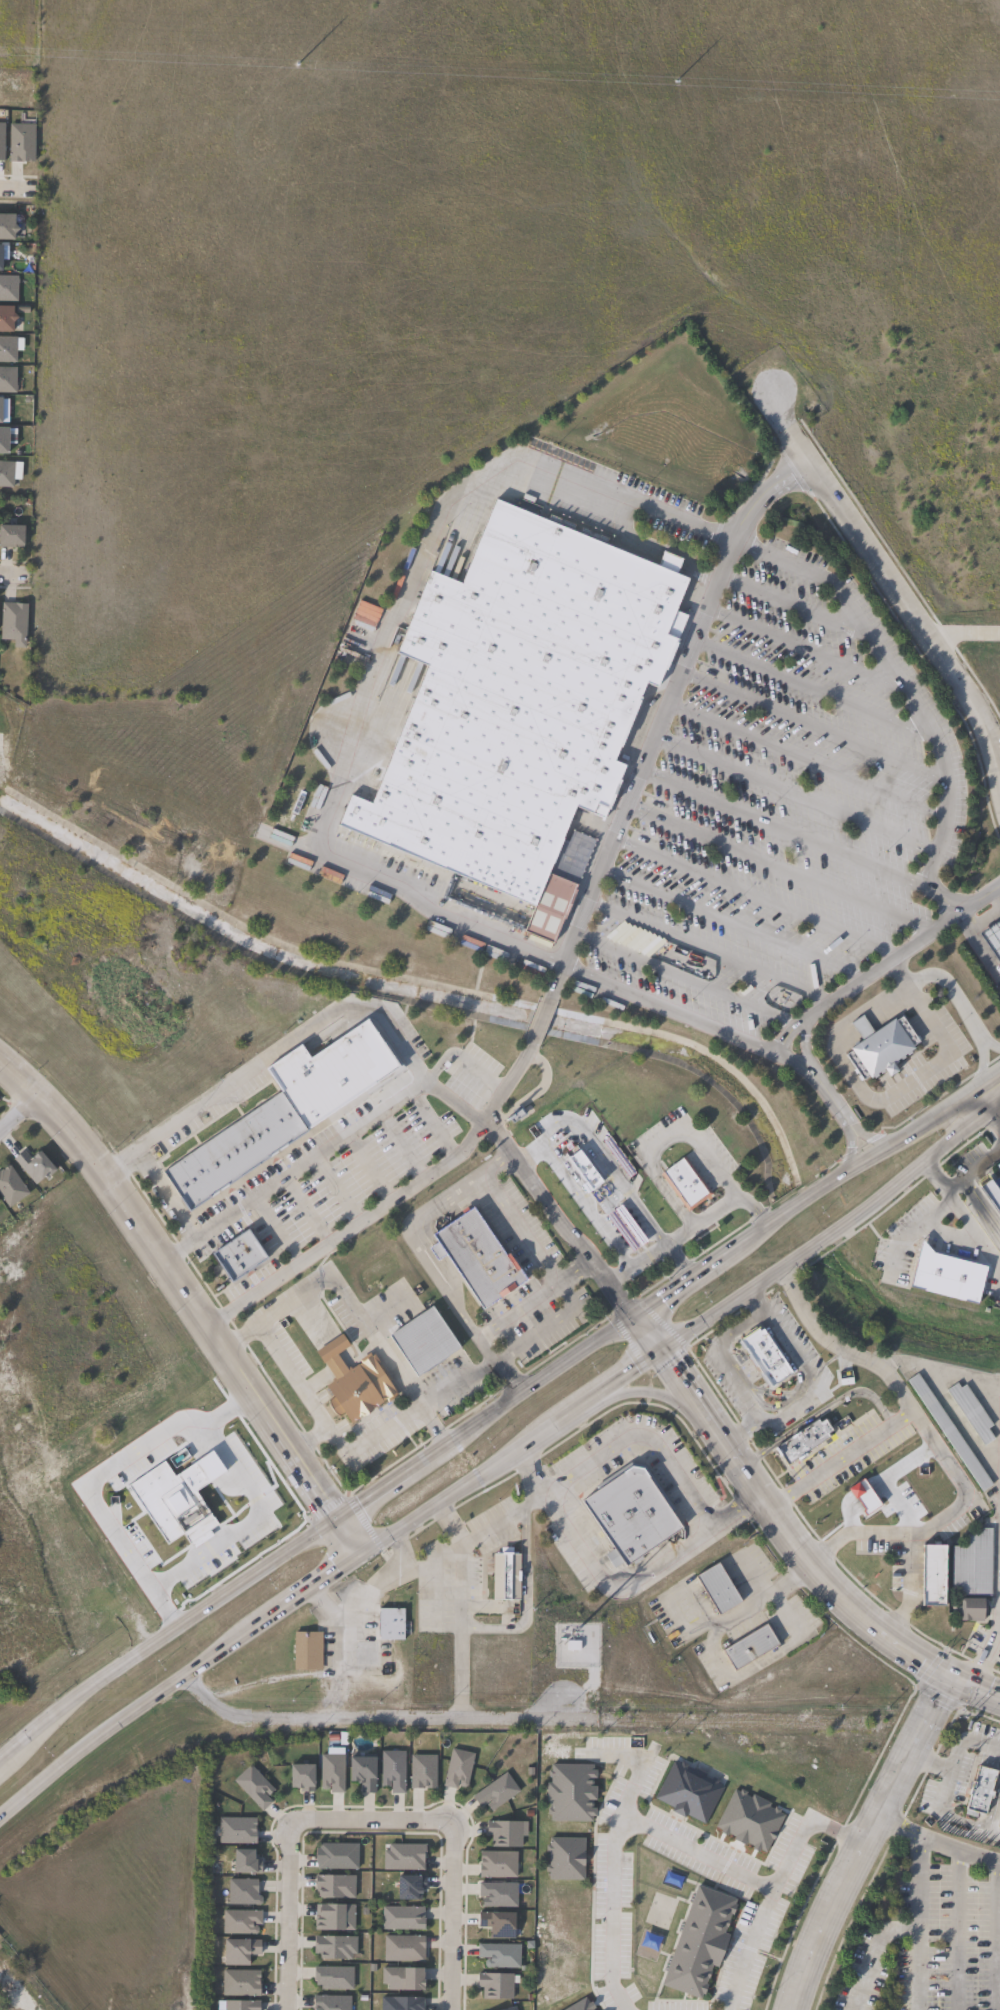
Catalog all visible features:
power tower: (1, 55)
power tower: (305, 68)
power tower: (604, 81)
power tower: (909, 95)
building: (2, 141)
building: (22, 143)
road: (16, 190)
building: (6, 227)
building: (8, 289)
building: (6, 319)
building: (7, 350)
building: (7, 380)
building: (3, 442)
building: (6, 475)
parking lot: (666, 499)
road: (430, 529)
building: (11, 537)
road: (14, 574)
road: (892, 585)
road: (791, 603)
building: (13, 622)
road: (980, 632)
road: (945, 635)
road: (802, 647)
road: (896, 678)
road: (813, 687)
building: (521, 703)
road: (659, 714)
road: (811, 723)
road: (805, 759)
road: (794, 792)
parking lot: (311, 807)
parking lot: (781, 807)
road: (799, 837)
parking lot: (400, 867)
road: (777, 867)
parking lot: (336, 877)
road: (996, 894)
road: (754, 895)
road: (731, 923)
building: (993, 937)
parking lot: (484, 948)
road: (977, 948)
road: (708, 950)
road: (562, 964)
road: (878, 967)
road: (686, 979)
parking lot: (596, 994)
road: (539, 1018)
road: (299, 1034)
road: (990, 1042)
building: (879, 1046)
parking lot: (945, 1059)
road: (459, 1061)
road: (980, 1073)
road: (912, 1078)
road: (989, 1099)
road: (18, 1108)
building: (283, 1114)
road: (989, 1117)
road: (948, 1132)
road: (860, 1134)
road: (846, 1140)
road: (533, 1155)
road: (496, 1161)
building: (34, 1166)
road: (295, 1170)
road: (971, 1171)
road: (930, 1175)
building: (686, 1184)
building: (11, 1187)
road: (802, 1191)
road: (161, 1192)
road: (624, 1192)
building: (603, 1196)
road: (946, 1197)
road: (391, 1202)
road: (714, 1210)
road: (557, 1217)
road: (520, 1227)
road: (910, 1230)
road: (974, 1234)
road: (414, 1239)
road: (945, 1243)
road: (793, 1252)
building: (241, 1256)
building: (477, 1260)
road: (617, 1274)
building: (944, 1276)
road: (190, 1295)
road: (754, 1297)
road: (533, 1298)
road: (348, 1305)
traffic signals: (642, 1308)
road: (652, 1324)
road: (738, 1327)
traffic signals: (663, 1341)
building: (425, 1342)
road: (835, 1345)
road: (507, 1349)
building: (764, 1356)
road: (496, 1362)
road: (290, 1375)
building: (355, 1383)
road: (691, 1384)
road: (652, 1391)
road: (948, 1403)
road: (792, 1406)
road: (819, 1411)
building: (973, 1413)
road: (741, 1426)
building: (950, 1434)
road: (307, 1436)
road: (366, 1440)
building: (801, 1441)
road: (734, 1449)
road: (662, 1451)
road: (941, 1455)
road: (529, 1472)
road: (100, 1475)
traffic signals: (334, 1511)
building: (631, 1513)
road: (492, 1523)
road: (251, 1524)
road: (314, 1524)
traffic signals: (357, 1550)
road: (401, 1562)
road: (430, 1563)
building: (973, 1565)
road: (326, 1571)
building: (506, 1575)
building: (929, 1576)
building: (719, 1588)
road: (761, 1592)
road: (524, 1596)
road: (854, 1606)
road: (351, 1608)
building: (974, 1609)
road: (996, 1621)
building: (391, 1623)
building: (752, 1646)
building: (307, 1650)
building: (355, 1652)
traffic signals: (945, 1667)
road: (288, 1675)
road: (352, 1718)
road: (955, 1765)
building: (458, 1768)
building: (394, 1771)
building: (423, 1771)
building: (364, 1772)
building: (332, 1773)
building: (302, 1777)
building: (254, 1786)
building: (975, 1790)
building: (570, 1791)
road: (632, 1791)
building: (496, 1792)
building: (997, 1815)
road: (614, 1827)
building: (237, 1830)
building: (505, 1833)
road: (862, 1836)
road: (450, 1839)
road: (957, 1852)
building: (337, 1856)
building: (405, 1857)
building: (564, 1857)
building: (246, 1862)
building: (498, 1864)
building: (335, 1886)
building: (410, 1887)
road: (774, 1891)
building: (243, 1892)
building: (498, 1894)
road: (285, 1916)
building: (334, 1917)
building: (403, 1918)
road: (916, 1919)
building: (241, 1922)
building: (500, 1925)
road: (954, 1930)
road: (988, 1935)
building: (699, 1940)
building: (335, 1947)
building: (403, 1949)
building: (240, 1951)
building: (500, 1955)
road: (916, 1969)
building: (334, 1978)
building: (403, 1979)
building: (241, 1983)
building: (497, 1985)
road: (16, 1989)
building: (332, 2003)
building: (402, 2004)
building: (242, 2005)
building: (511, 2009)

